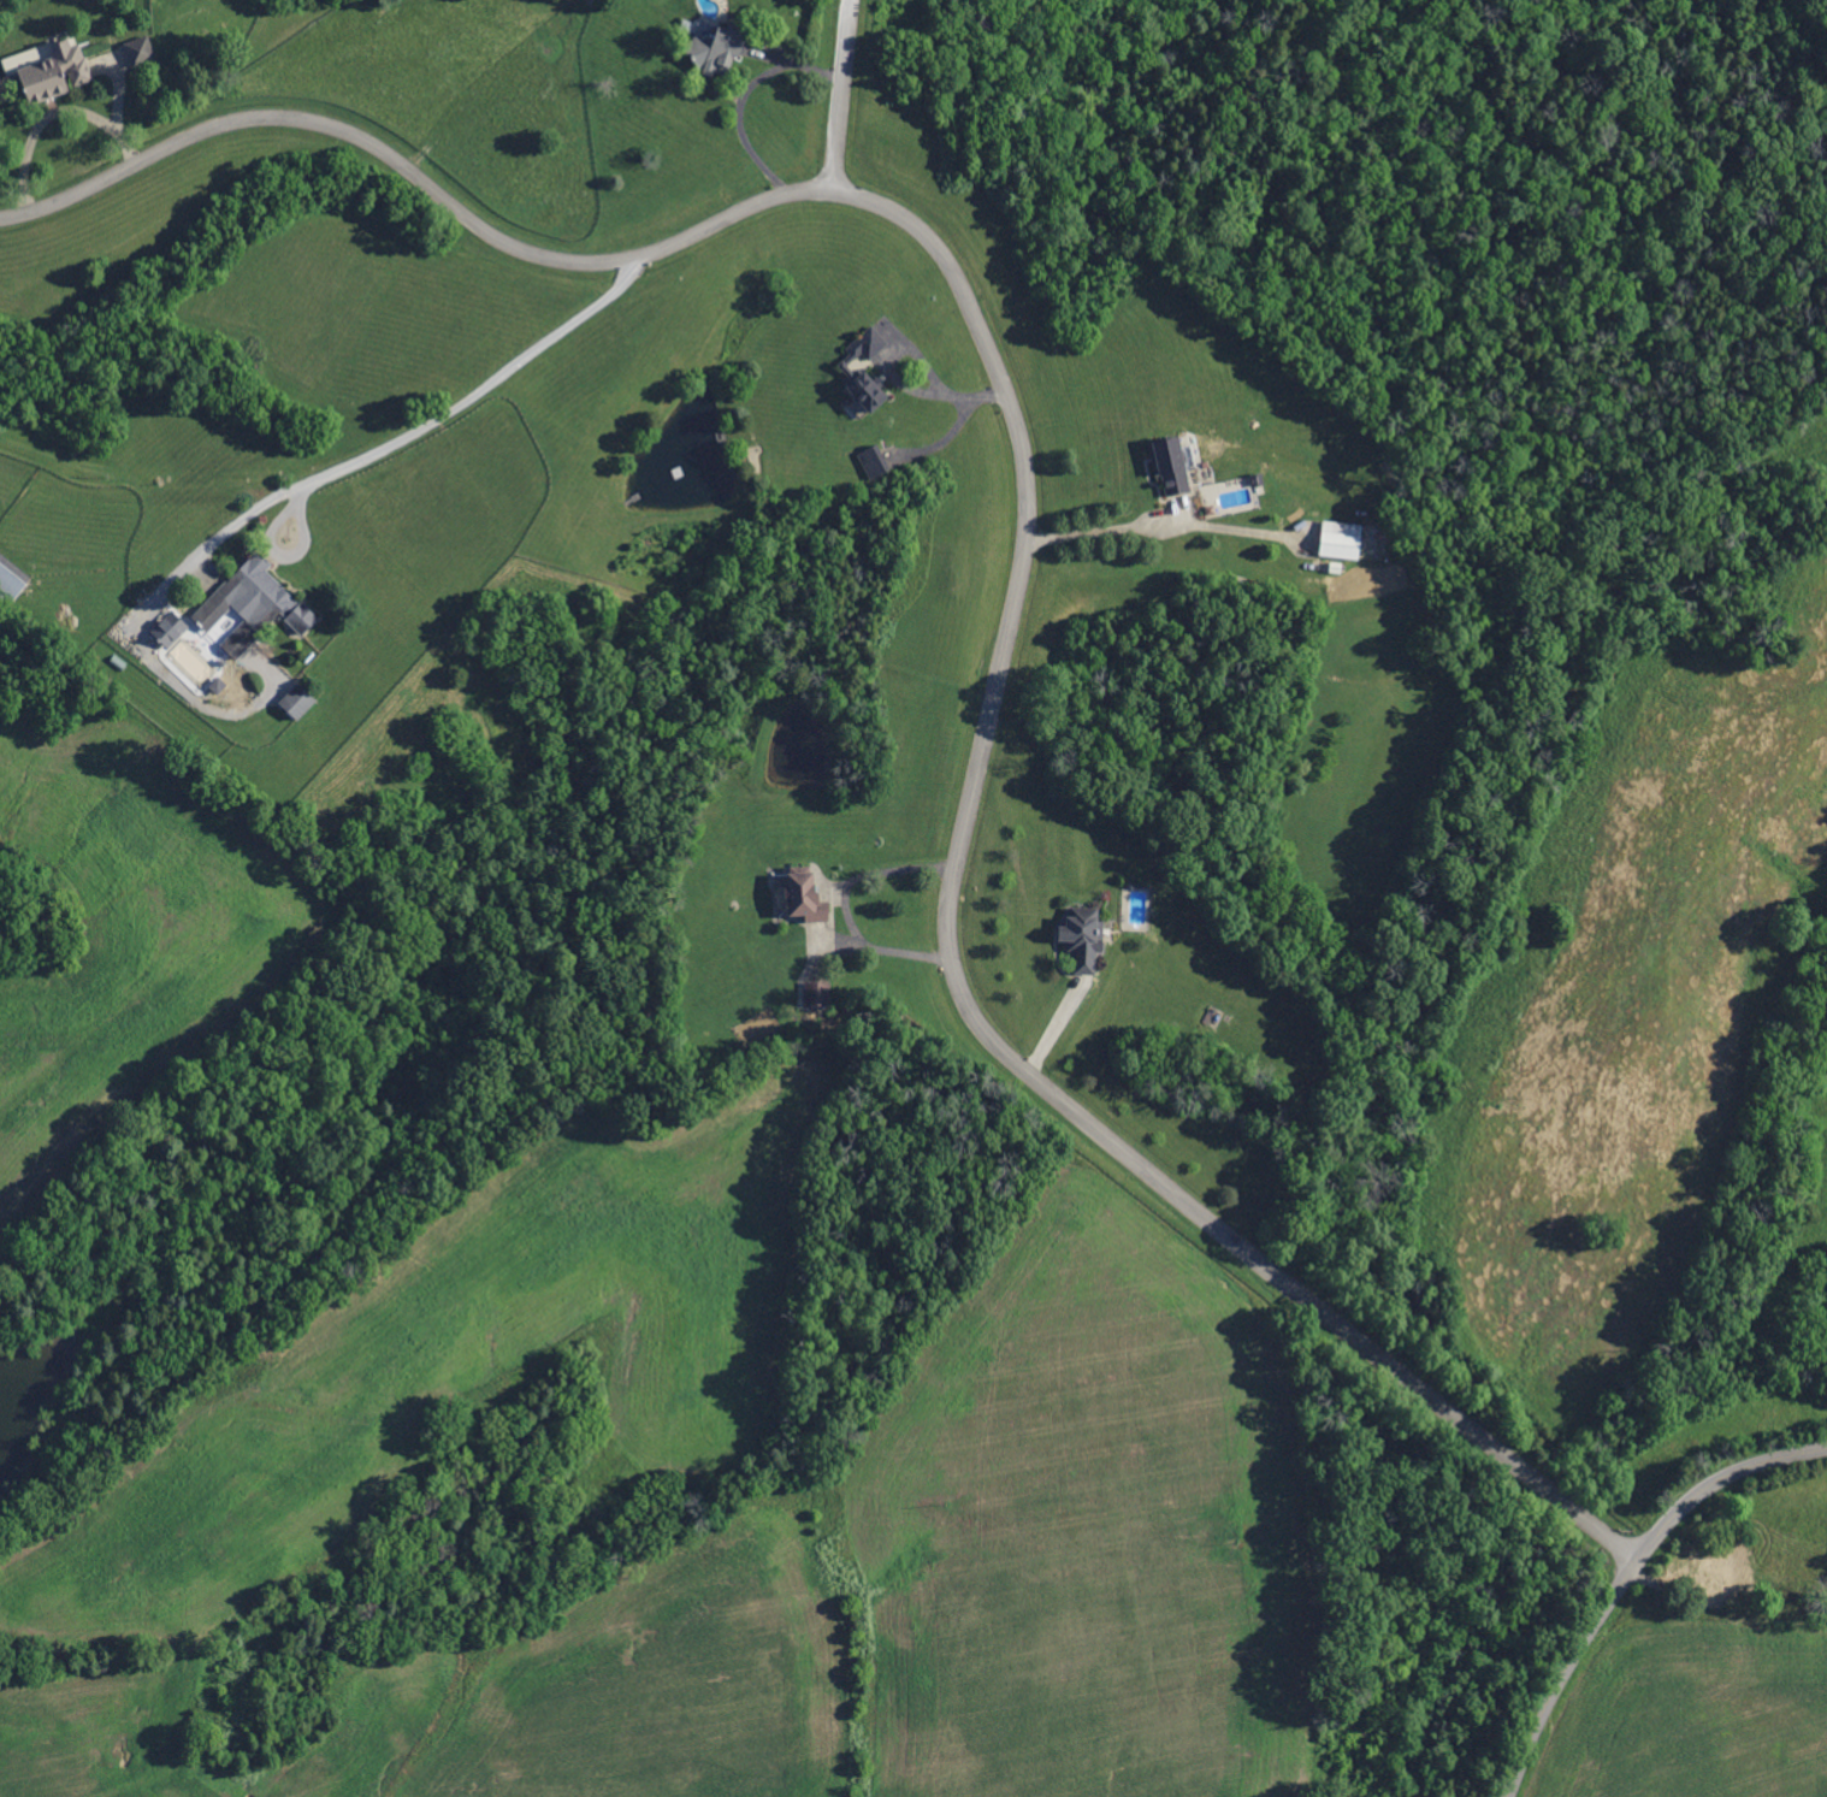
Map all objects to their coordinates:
building: (716, 49)
building: (141, 52)
building: (28, 58)
building: (57, 72)
road: (834, 91)
road: (744, 97)
road: (116, 117)
road: (36, 125)
park: (1401, 211)
building: (846, 370)
road: (477, 394)
building: (874, 462)
building: (1170, 466)
building: (1258, 480)
road: (1105, 528)
road: (1028, 542)
building: (1341, 542)
road: (197, 555)
building: (12, 578)
building: (270, 603)
building: (223, 662)
building: (217, 686)
building: (298, 702)
building: (805, 895)
road: (838, 895)
building: (1083, 938)
building: (818, 994)
road: (1626, 1578)
building: (1714, 1579)
building: (1804, 1597)
building: (244, 1661)
building: (202, 1744)

